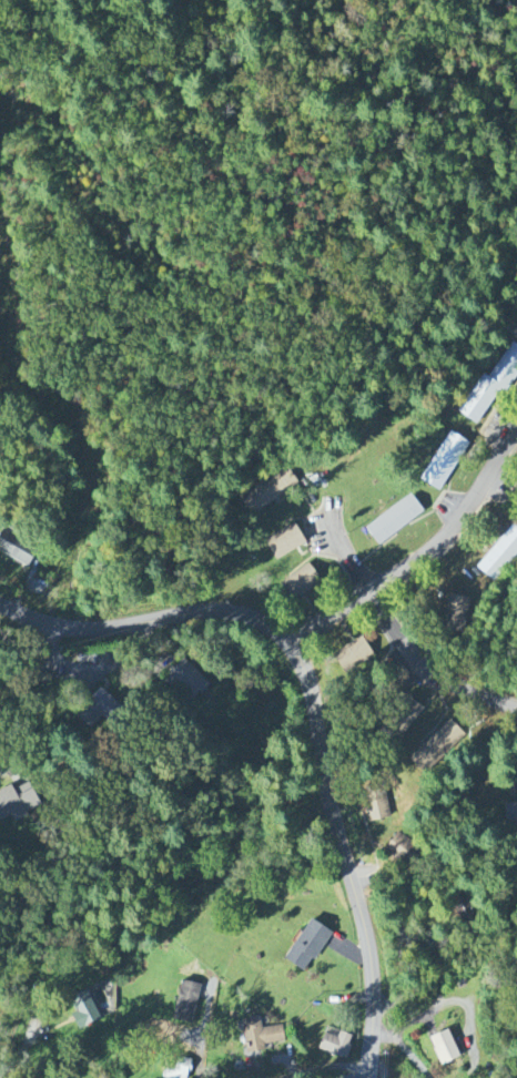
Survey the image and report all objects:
building: (491, 388)
building: (444, 461)
building: (270, 491)
building: (394, 521)
building: (284, 543)
building: (17, 549)
road: (424, 556)
building: (499, 556)
building: (301, 583)
building: (457, 612)
road: (146, 622)
road: (396, 631)
building: (352, 657)
road: (111, 665)
road: (45, 668)
building: (184, 680)
building: (97, 711)
building: (402, 719)
building: (437, 748)
road: (9, 769)
building: (17, 803)
building: (375, 804)
building: (508, 814)
building: (401, 850)
road: (345, 856)
building: (306, 947)
building: (186, 1004)
building: (82, 1010)
building: (260, 1036)
building: (334, 1046)
building: (443, 1048)
road: (326, 1066)
building: (176, 1069)
road: (385, 1071)
road: (361, 1072)

